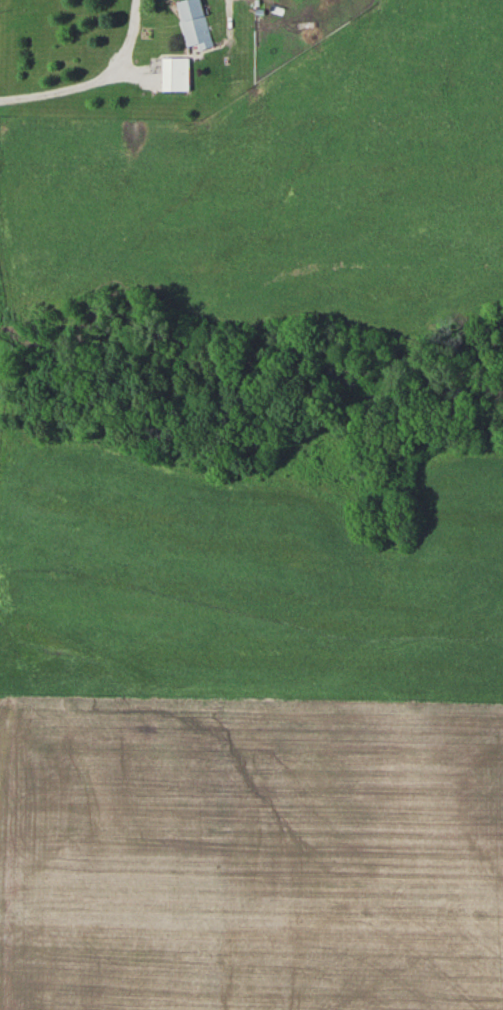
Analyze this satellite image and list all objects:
building: (196, 23)
building: (178, 73)

